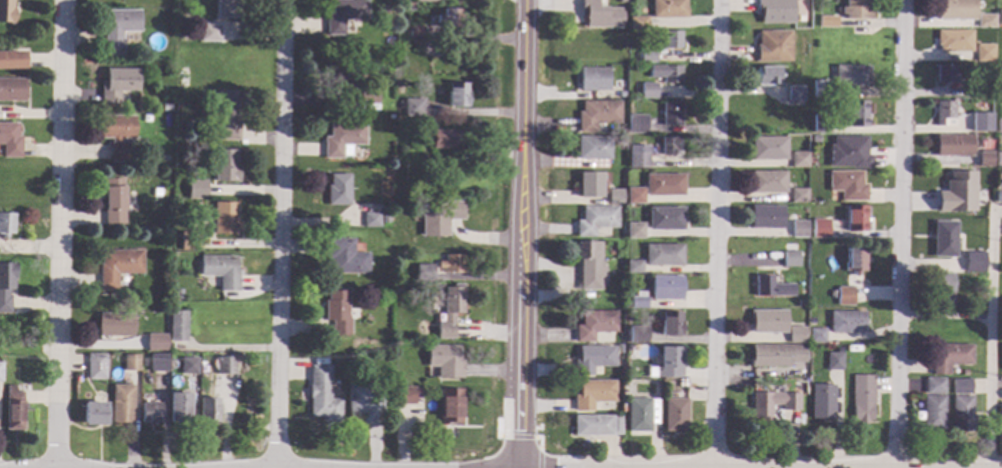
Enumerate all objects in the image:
building: (424, 1)
building: (411, 7)
building: (228, 9)
building: (382, 9)
building: (670, 9)
building: (857, 10)
building: (956, 10)
building: (776, 11)
building: (7, 12)
building: (601, 15)
building: (346, 16)
building: (452, 18)
building: (1000, 18)
building: (986, 21)
building: (829, 22)
building: (639, 23)
building: (120, 29)
building: (211, 33)
building: (417, 33)
building: (673, 40)
building: (955, 41)
building: (773, 47)
building: (985, 53)
building: (649, 57)
building: (12, 59)
building: (667, 74)
building: (946, 74)
building: (851, 76)
building: (769, 77)
building: (595, 79)
building: (355, 82)
building: (407, 84)
building: (117, 85)
building: (821, 89)
building: (999, 89)
building: (13, 90)
building: (650, 91)
building: (970, 91)
building: (795, 94)
building: (621, 95)
building: (459, 96)
building: (986, 104)
building: (166, 107)
building: (178, 107)
building: (414, 108)
building: (672, 114)
building: (857, 114)
building: (945, 114)
building: (598, 115)
building: (225, 116)
building: (981, 121)
building: (821, 123)
building: (638, 125)
building: (999, 126)
building: (117, 135)
building: (343, 139)
building: (442, 139)
building: (815, 140)
building: (9, 141)
building: (620, 142)
building: (951, 145)
building: (670, 146)
building: (594, 148)
building: (769, 148)
building: (849, 153)
building: (639, 156)
building: (985, 159)
building: (800, 160)
building: (998, 160)
building: (226, 166)
building: (769, 182)
building: (664, 185)
building: (848, 185)
building: (591, 186)
building: (197, 190)
building: (339, 191)
building: (157, 192)
building: (957, 192)
building: (635, 196)
building: (799, 196)
building: (998, 196)
building: (616, 197)
building: (113, 202)
building: (767, 218)
building: (225, 219)
building: (372, 219)
building: (386, 219)
building: (439, 219)
building: (666, 219)
building: (856, 219)
building: (597, 220)
building: (6, 225)
building: (799, 229)
building: (821, 229)
building: (634, 231)
road: (58, 234)
road: (282, 234)
road: (524, 234)
road: (716, 234)
road: (901, 234)
building: (944, 239)
building: (188, 241)
building: (664, 256)
building: (346, 257)
building: (791, 259)
building: (856, 261)
building: (975, 262)
building: (453, 264)
building: (591, 265)
building: (118, 267)
building: (634, 267)
building: (221, 271)
building: (425, 273)
building: (941, 285)
building: (6, 286)
building: (399, 287)
building: (771, 287)
building: (666, 288)
building: (832, 294)
building: (845, 296)
building: (637, 301)
building: (802, 304)
building: (451, 312)
building: (338, 313)
road: (945, 316)
building: (768, 322)
building: (847, 323)
building: (671, 324)
building: (596, 325)
building: (116, 326)
building: (178, 326)
building: (638, 335)
building: (796, 335)
building: (817, 336)
building: (157, 343)
road: (989, 344)
building: (620, 349)
building: (776, 355)
building: (951, 358)
building: (594, 359)
building: (445, 361)
building: (834, 362)
building: (158, 363)
building: (669, 363)
building: (131, 364)
building: (249, 364)
building: (188, 366)
building: (226, 366)
building: (96, 367)
building: (1, 373)
building: (683, 384)
building: (934, 386)
building: (961, 387)
building: (594, 394)
building: (404, 395)
building: (323, 396)
building: (862, 399)
building: (822, 402)
building: (364, 403)
building: (773, 403)
building: (122, 404)
building: (451, 406)
building: (15, 409)
building: (179, 410)
building: (625, 410)
building: (151, 413)
building: (208, 413)
building: (933, 413)
building: (95, 414)
building: (642, 414)
building: (962, 415)
building: (675, 416)
building: (1001, 416)
building: (597, 426)
road: (950, 467)

